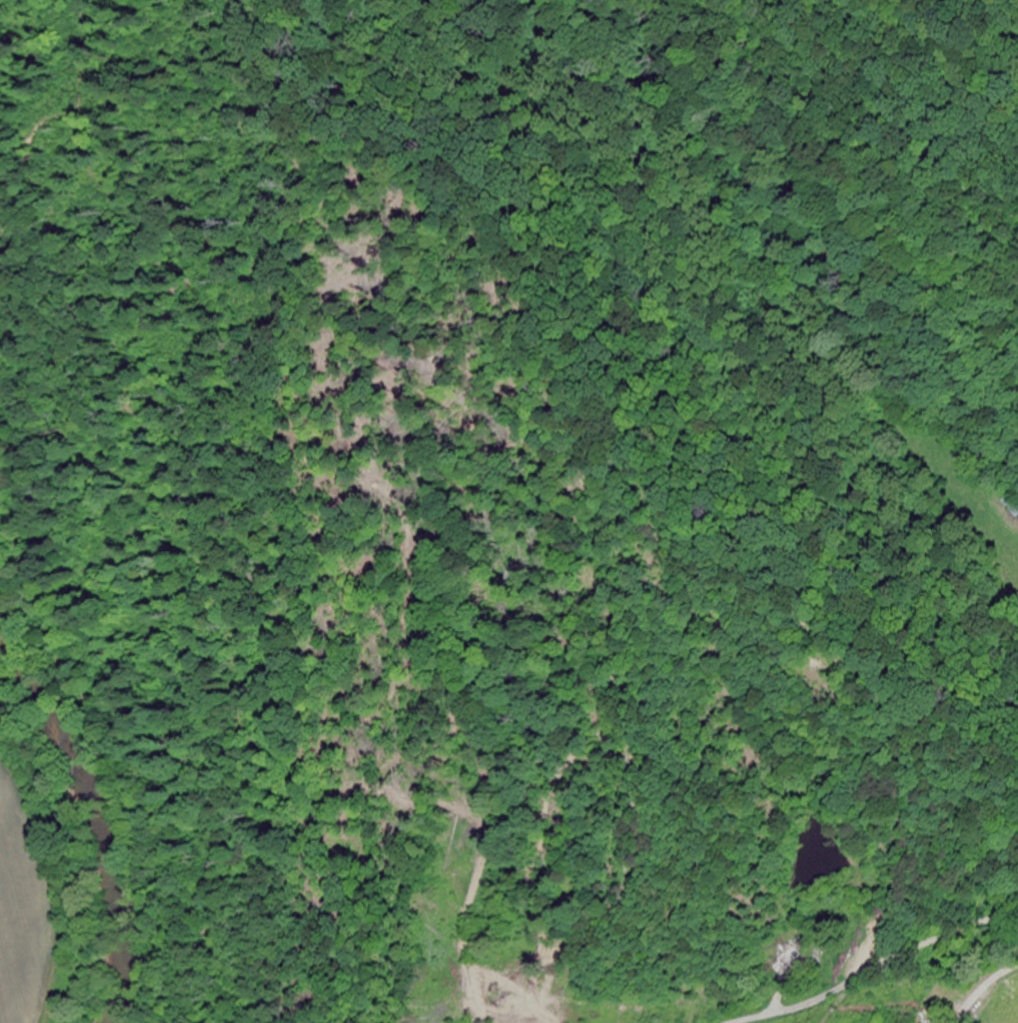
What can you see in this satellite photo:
building: (787, 964)
road: (879, 968)

